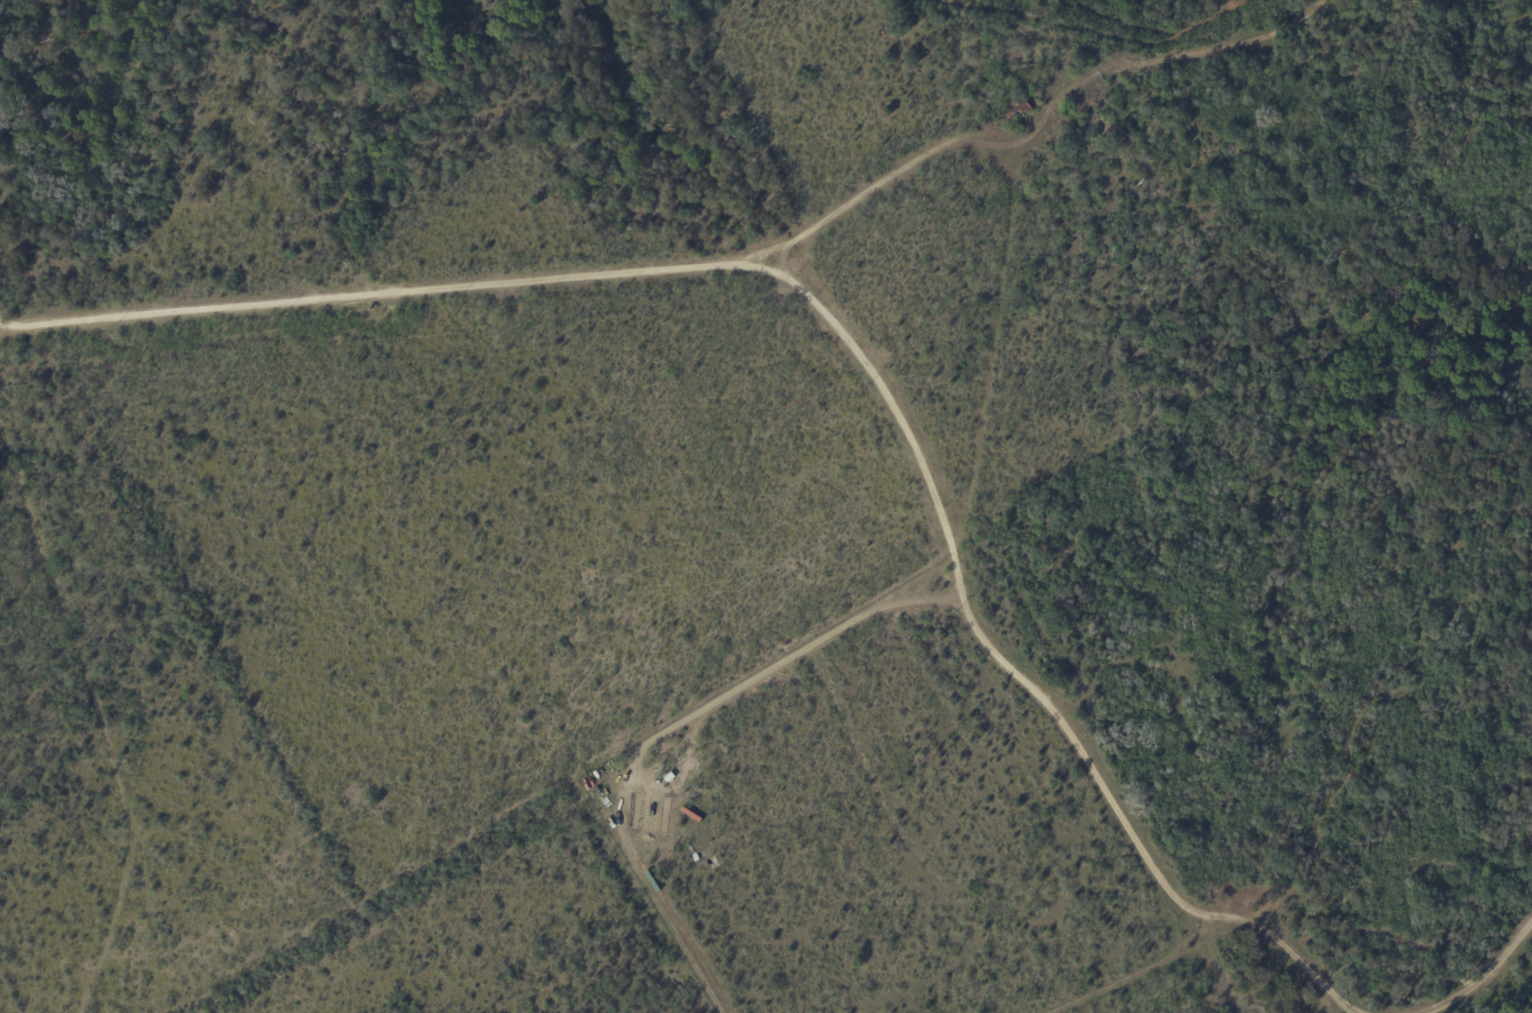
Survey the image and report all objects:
park: (1153, 17)
road: (853, 335)
road: (1470, 988)

